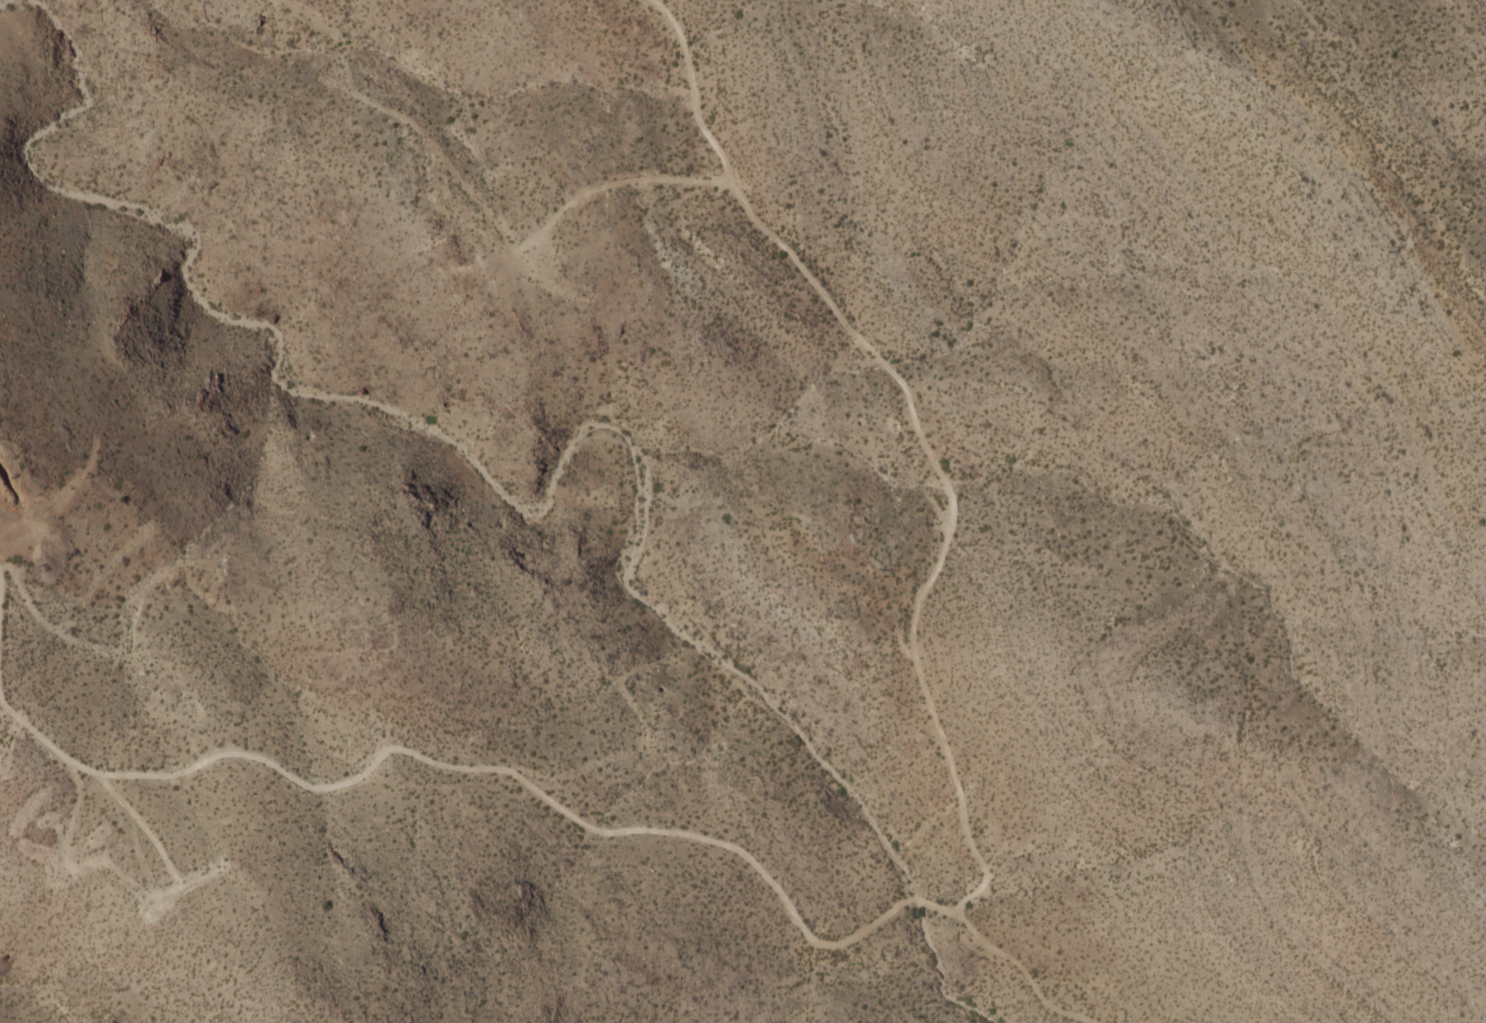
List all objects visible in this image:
road: (480, 205)
road: (916, 432)
quarry: (11, 482)
road: (52, 503)
road: (489, 769)
road: (141, 825)
road: (1022, 972)

